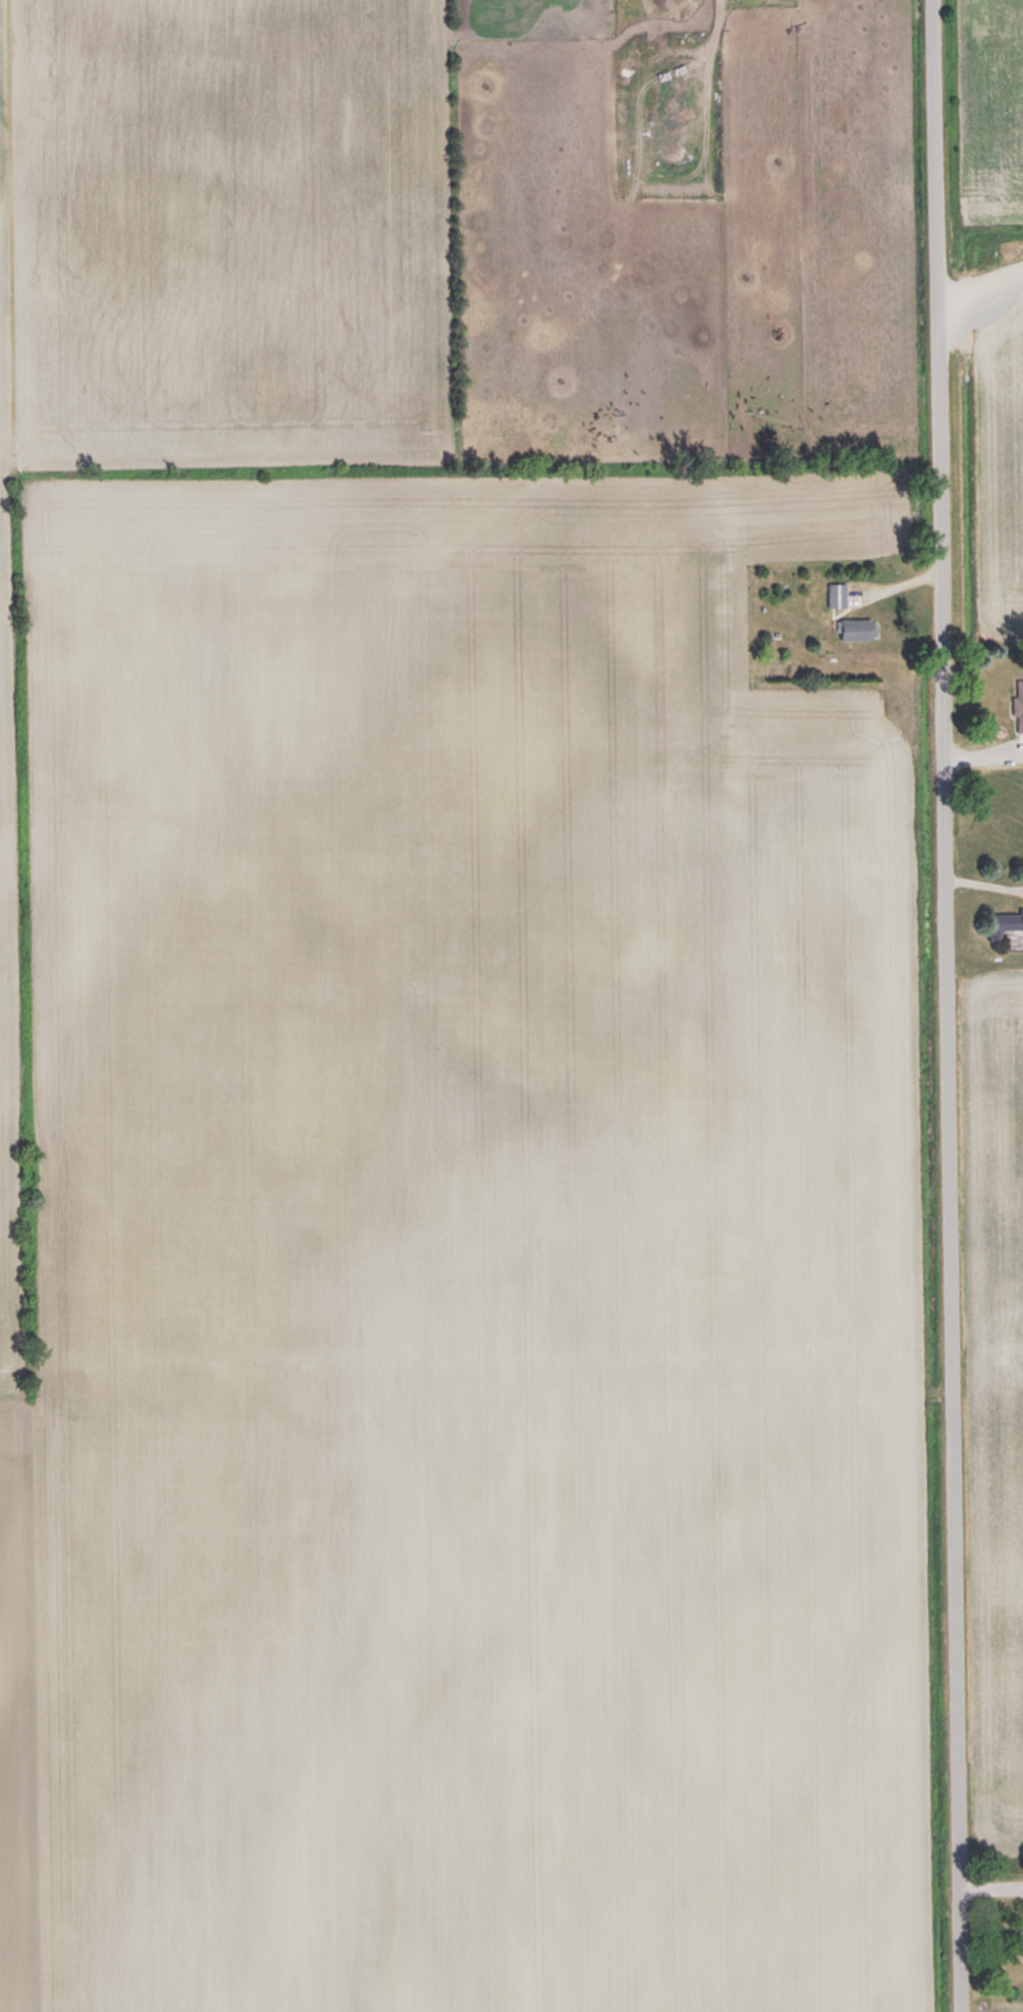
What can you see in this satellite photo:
building: (838, 594)
building: (859, 628)
building: (1019, 705)
building: (1005, 924)
road: (948, 1006)

